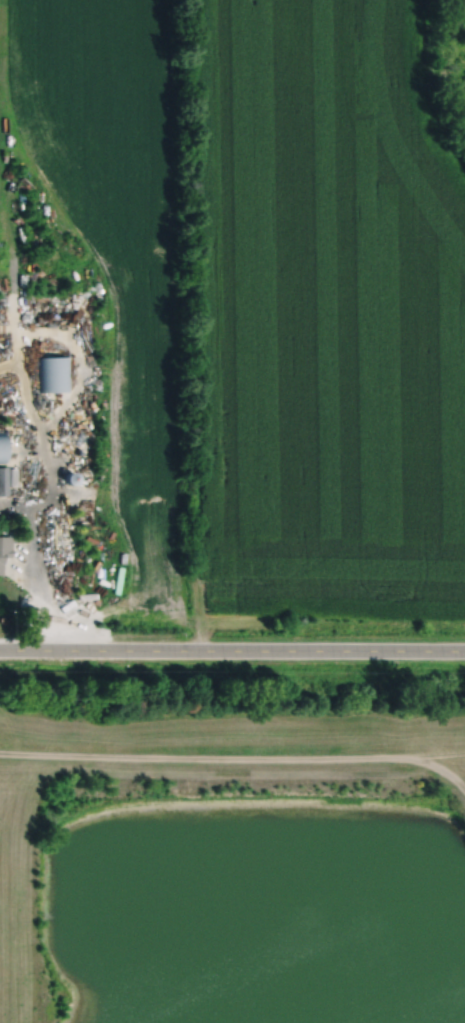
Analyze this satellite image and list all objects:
crop: (323, 316)
road: (11, 362)
building: (54, 374)
road: (66, 403)
road: (37, 423)
building: (2, 448)
building: (69, 477)
building: (2, 481)
building: (4, 547)
road: (232, 649)
road: (238, 757)

